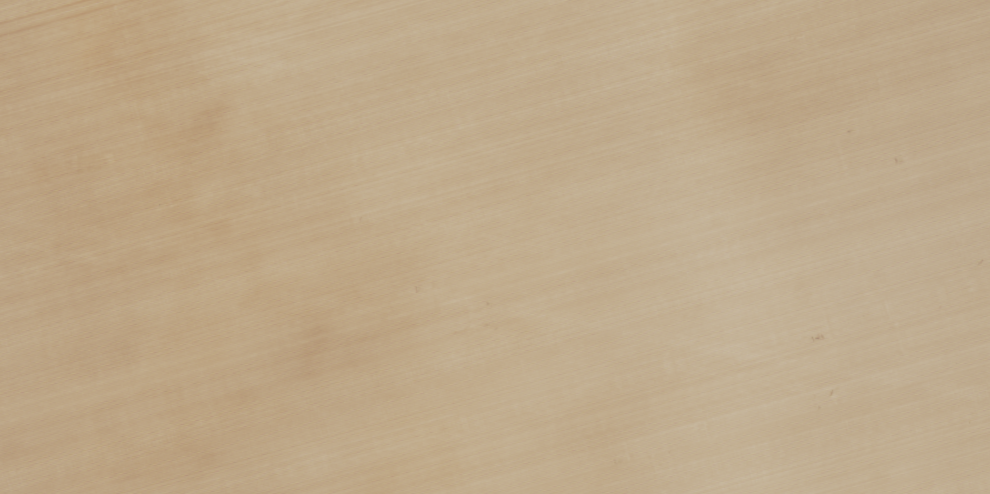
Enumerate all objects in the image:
road: (856, 248)

